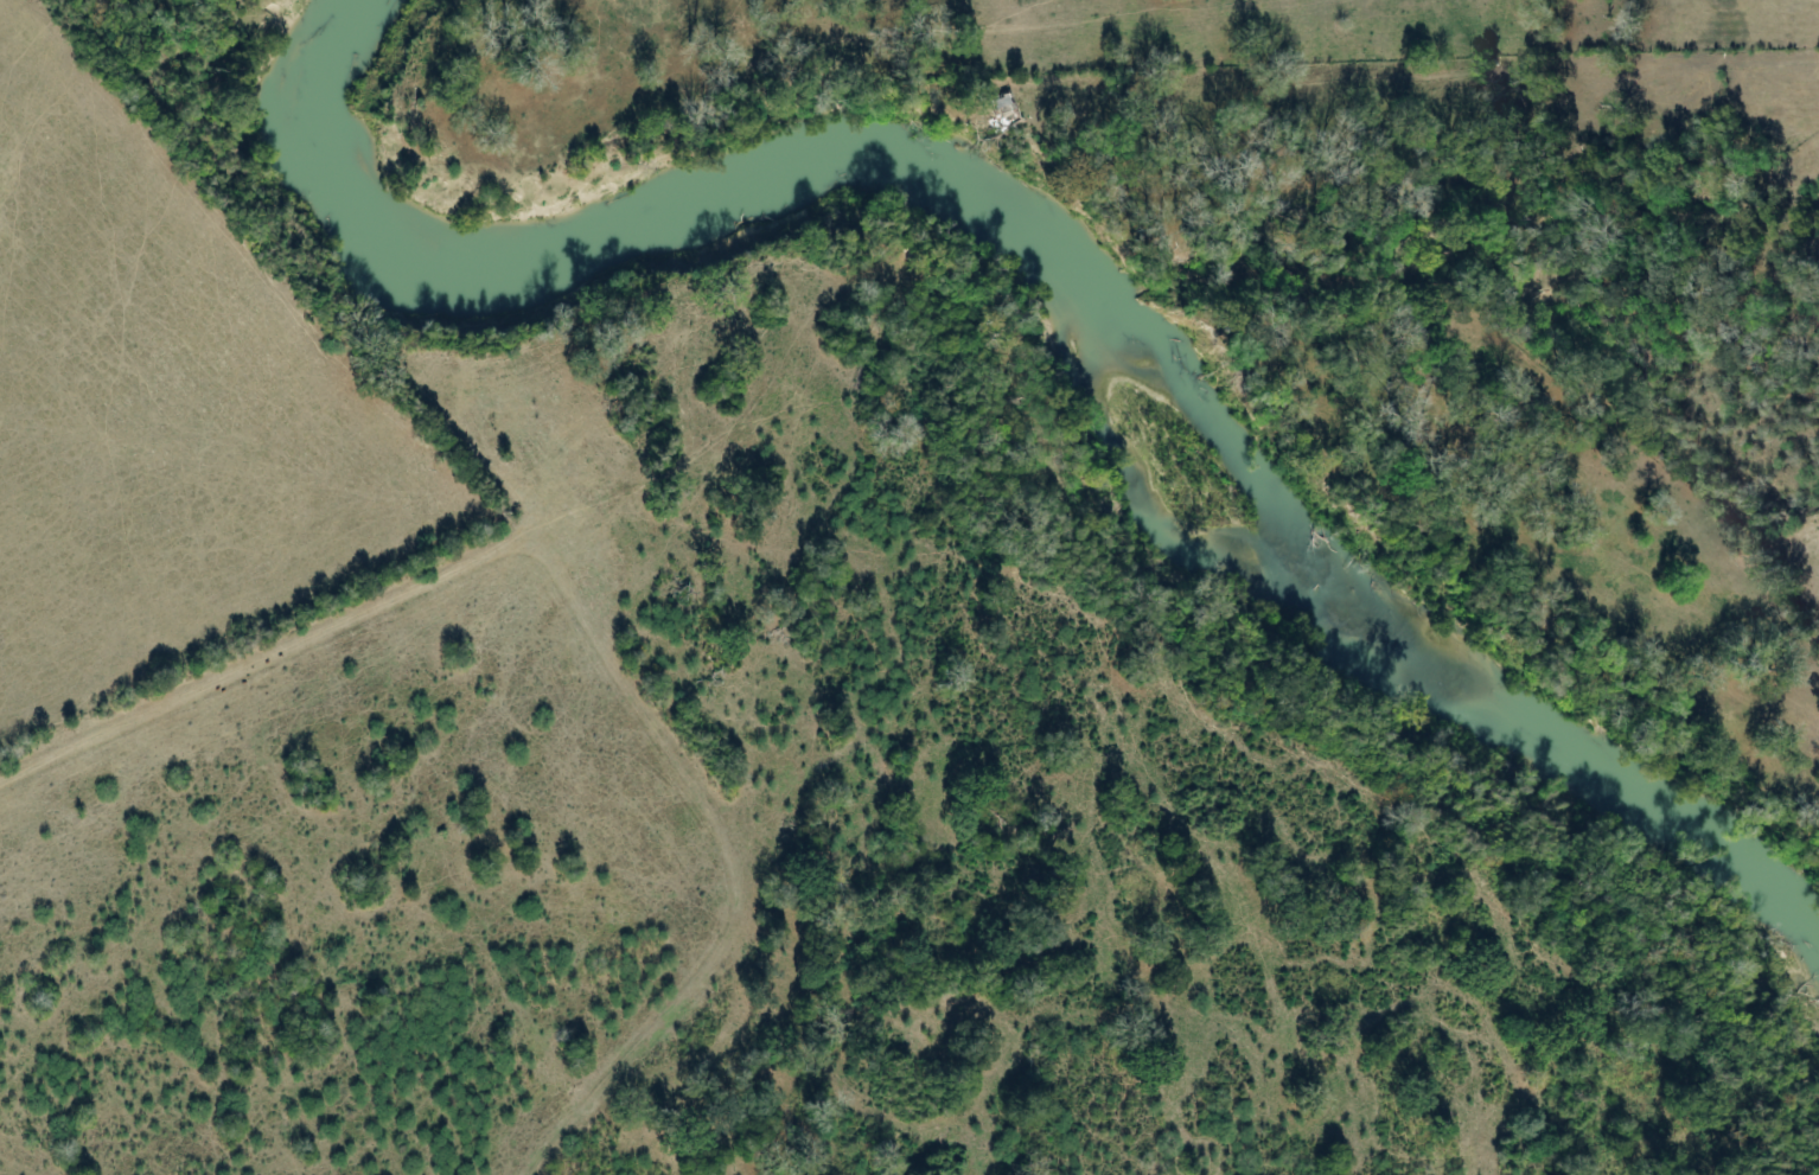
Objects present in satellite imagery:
river: (1064, 290)

